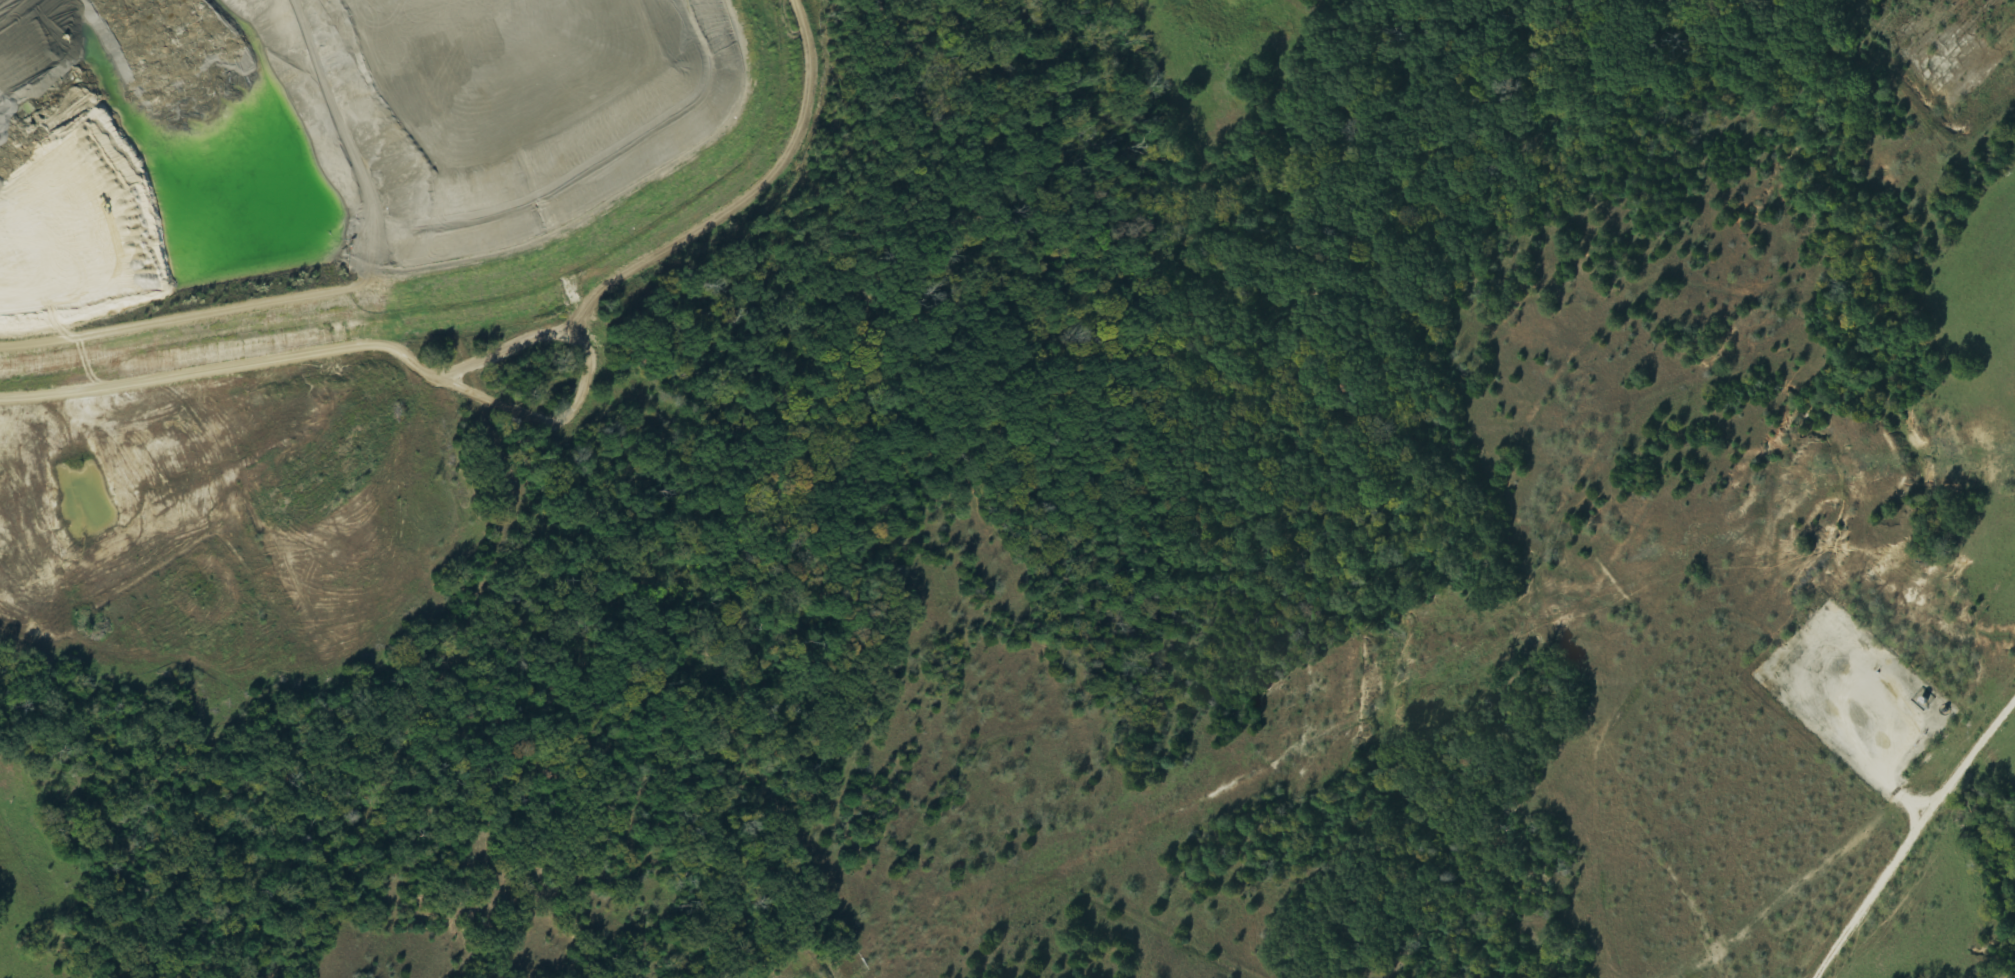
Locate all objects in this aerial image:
power plant: (493, 280)

